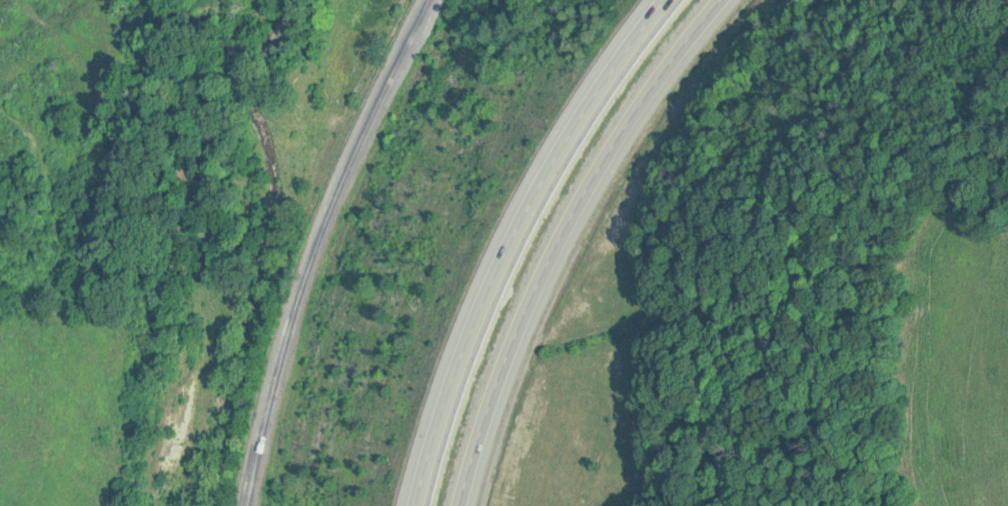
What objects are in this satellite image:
road: (564, 237)
road: (516, 238)
road: (319, 245)

